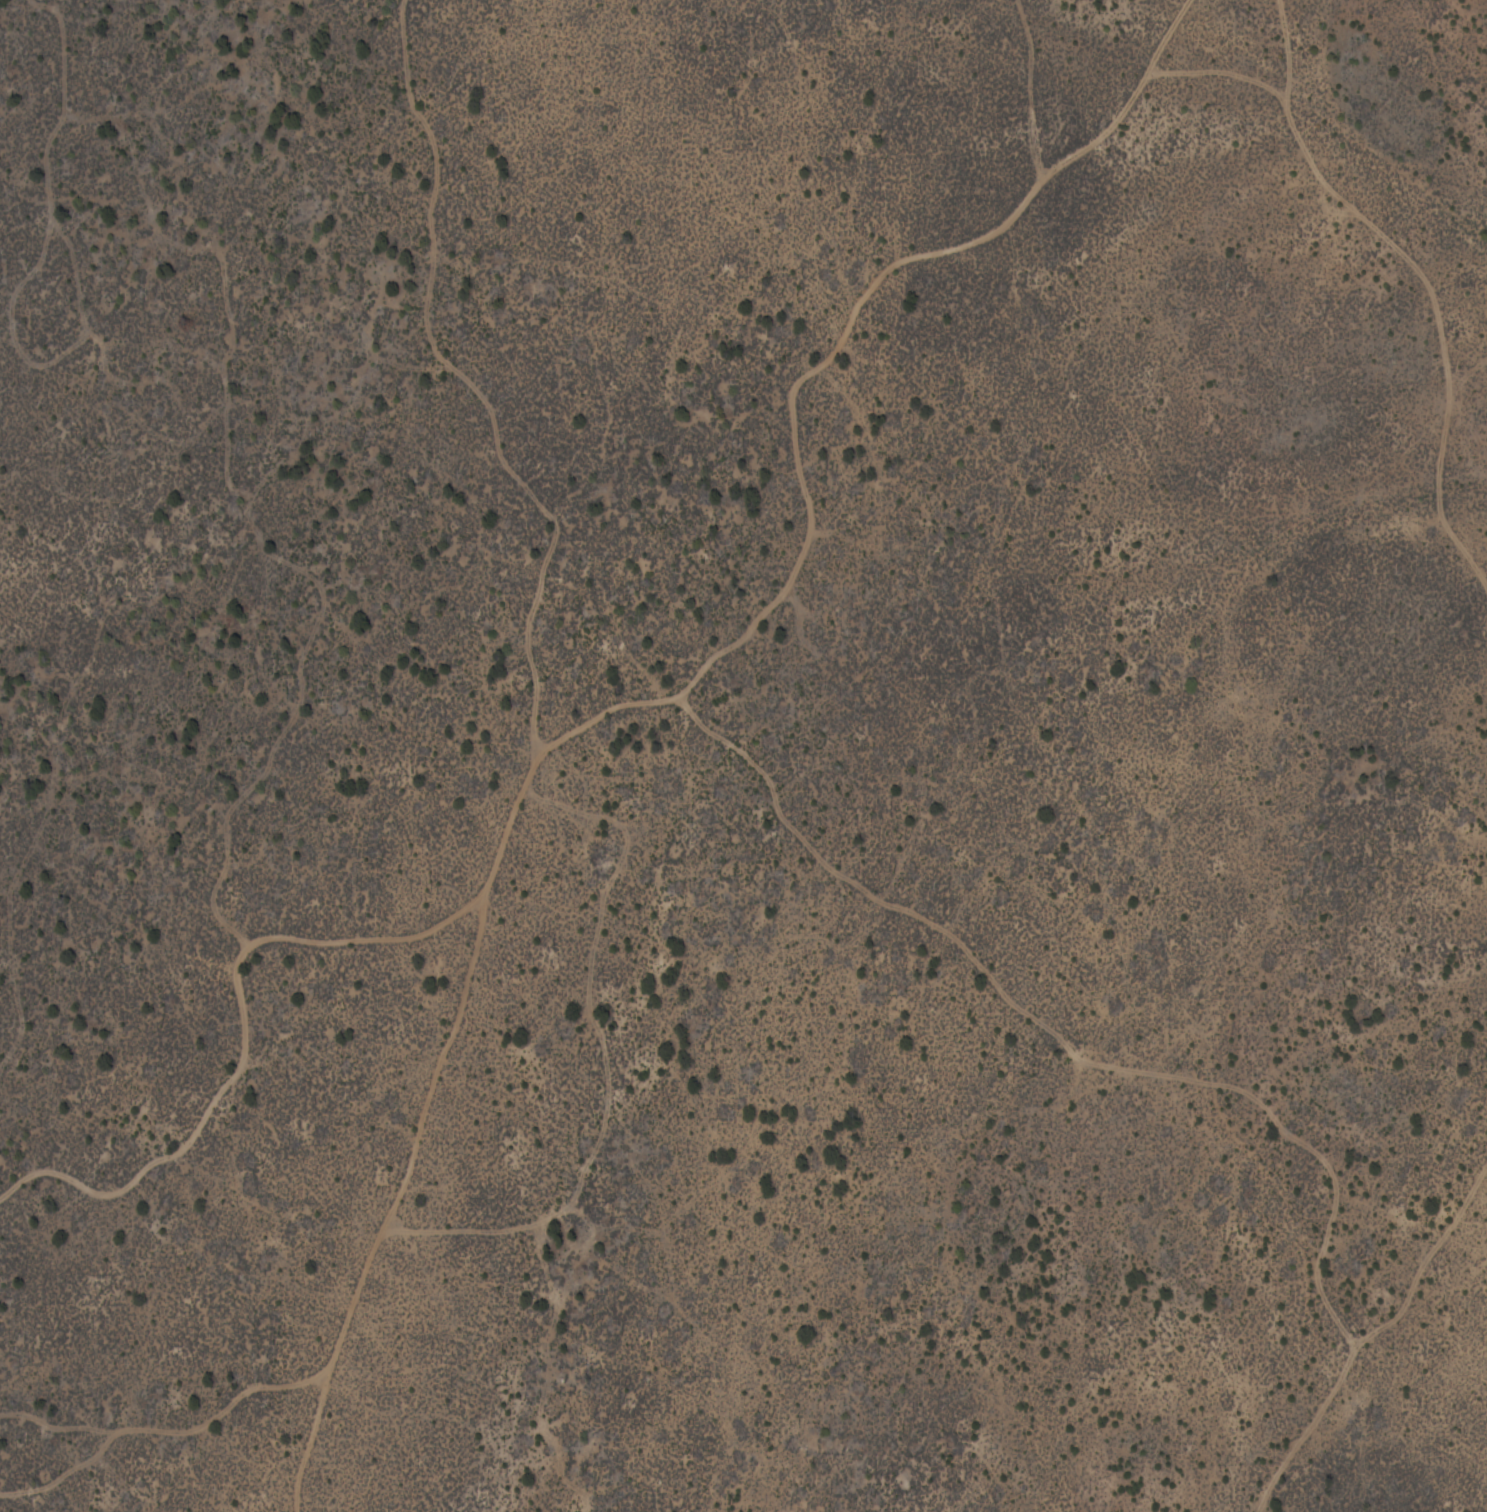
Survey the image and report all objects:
road: (1428, 235)
road: (675, 664)
road: (388, 1199)
road: (1384, 1327)

